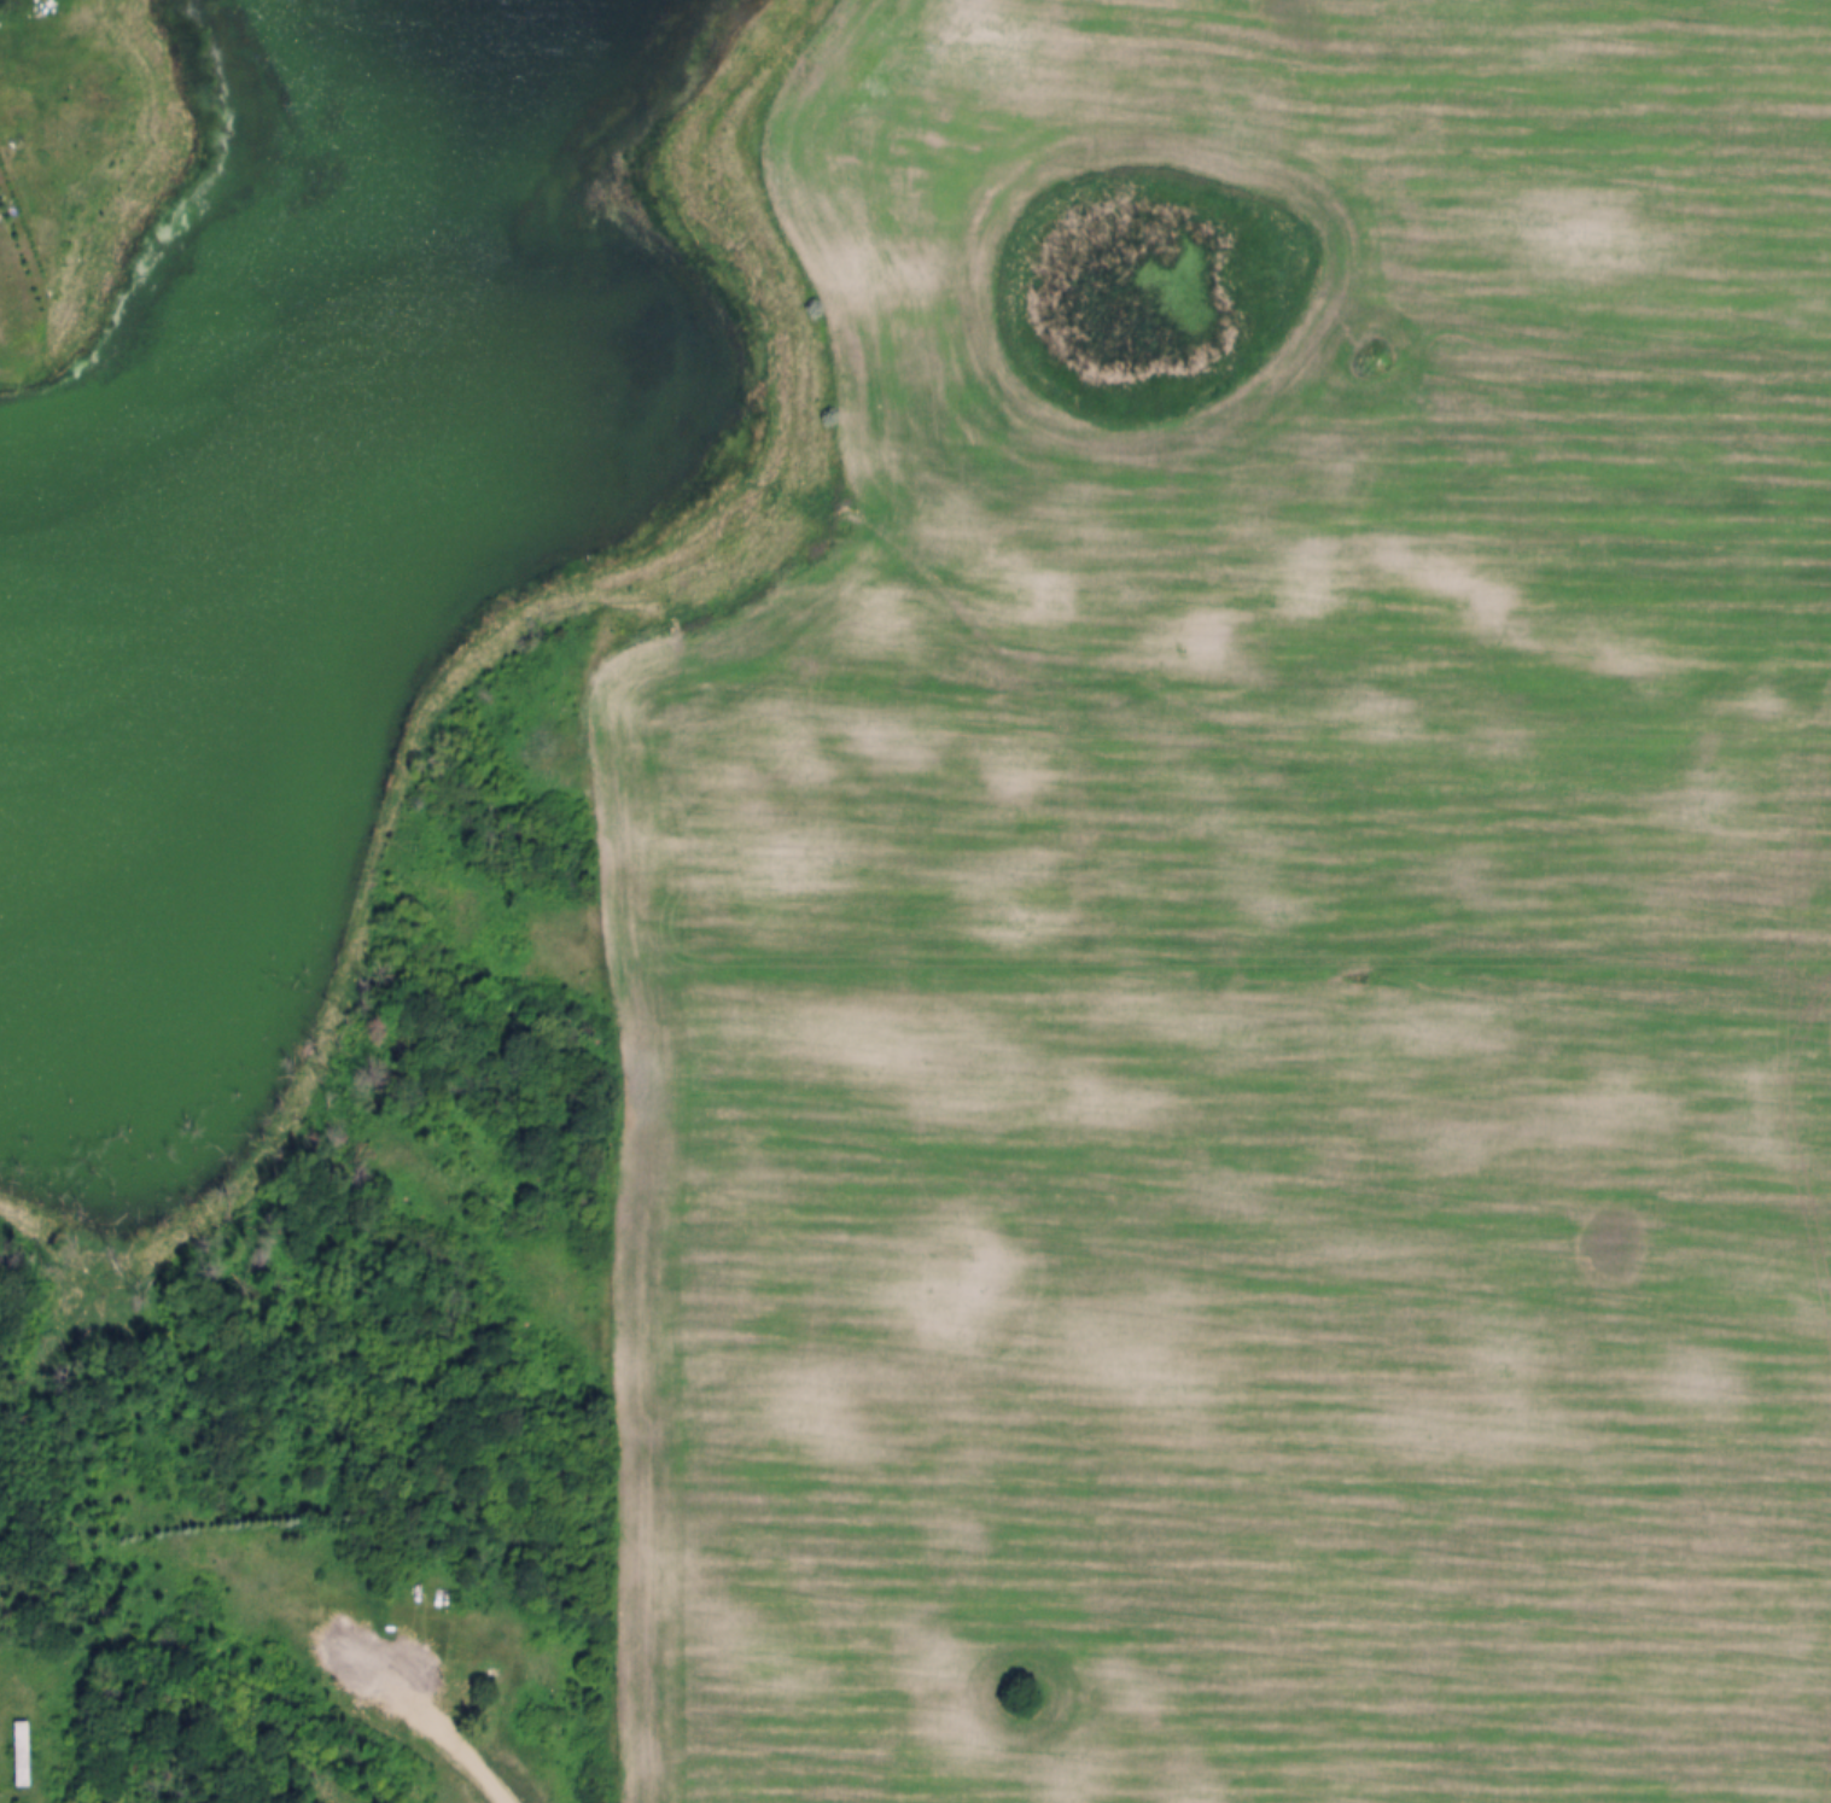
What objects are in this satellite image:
building: (375, 1651)
road: (456, 1743)

